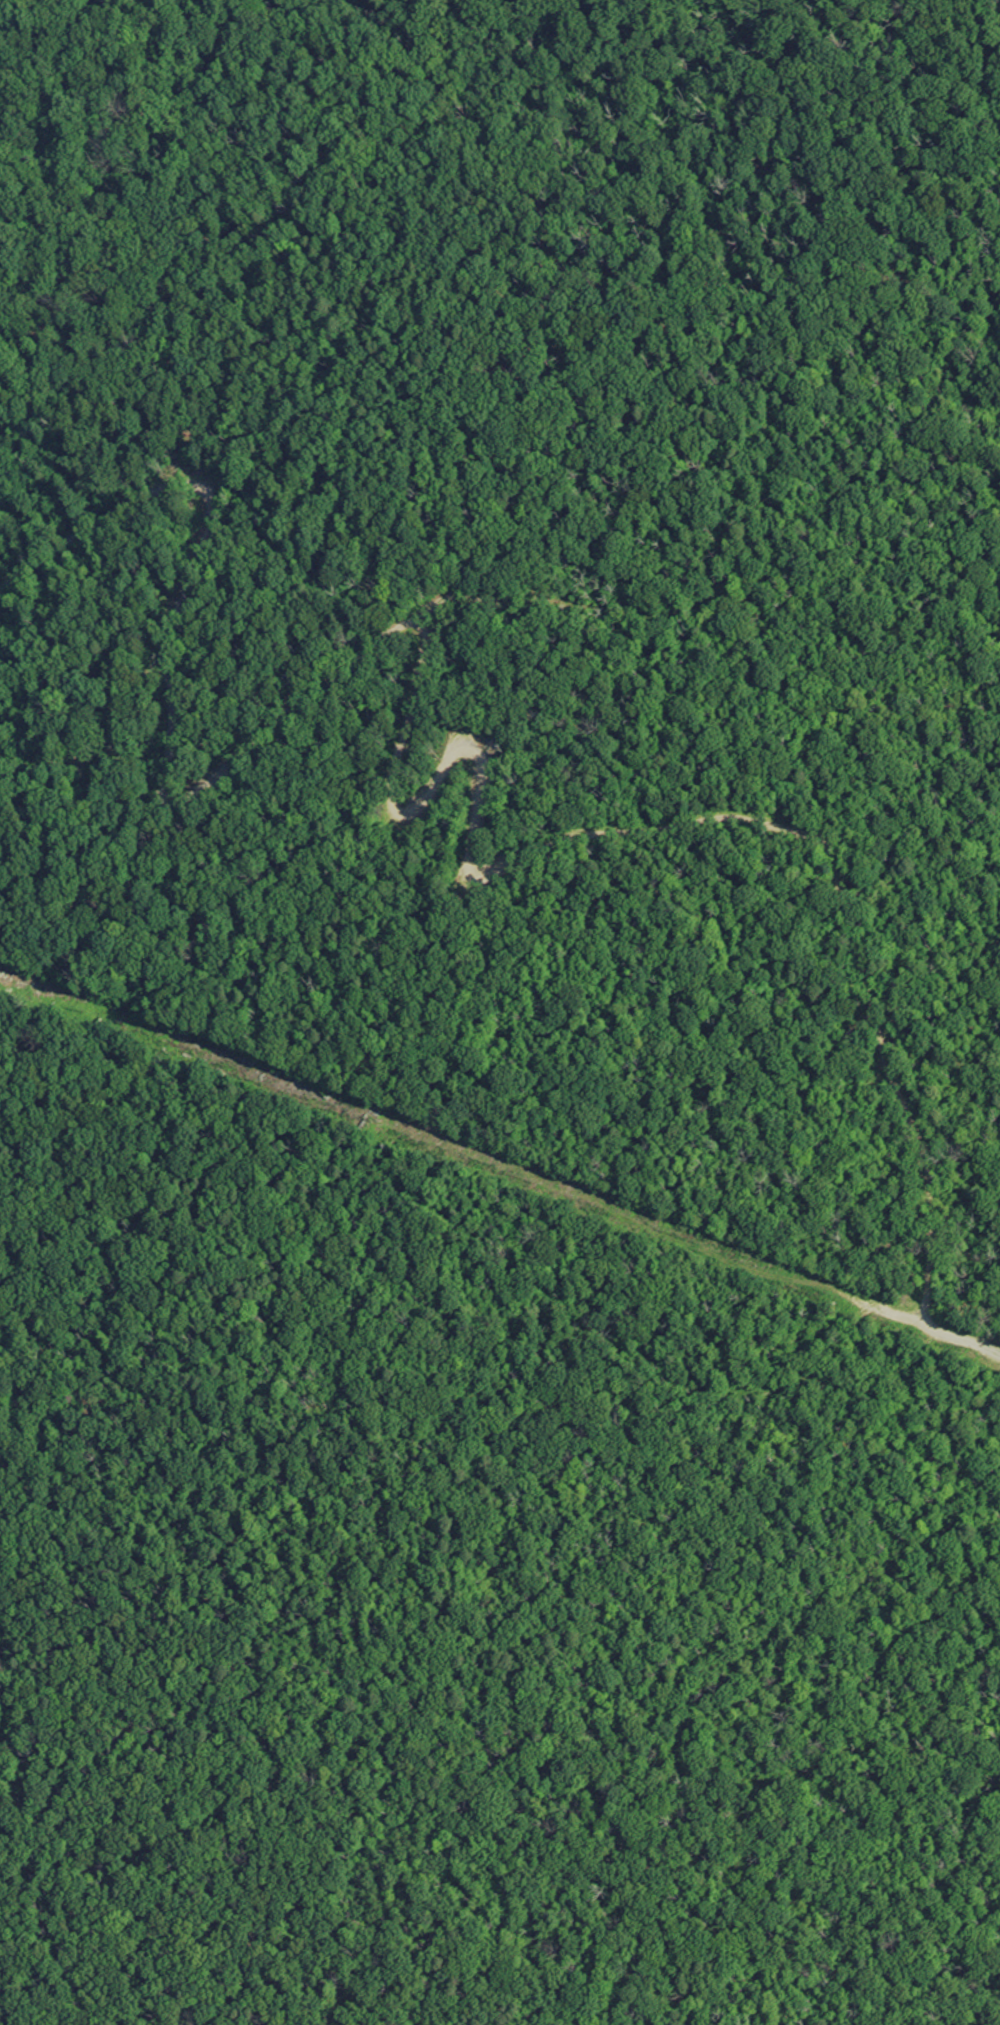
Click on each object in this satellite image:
road: (428, 791)

